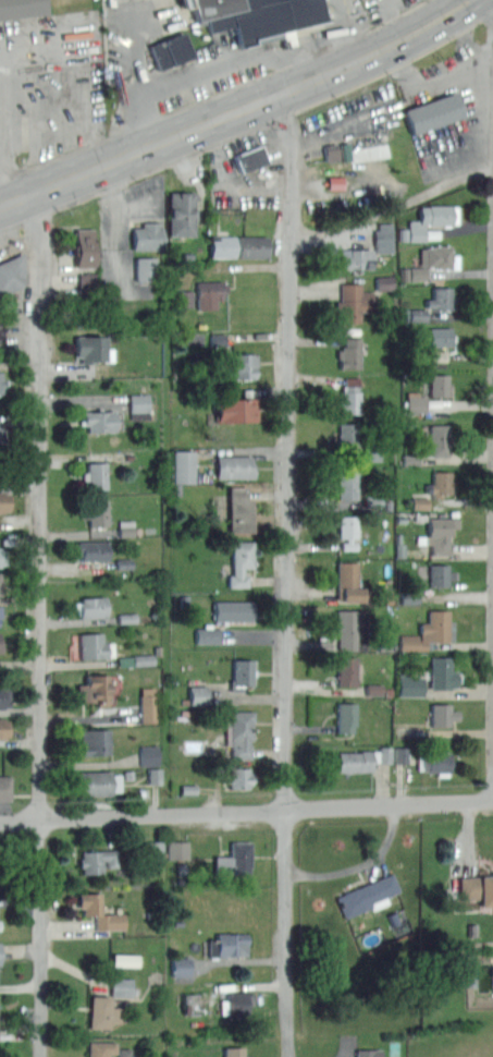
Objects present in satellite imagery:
building: (23, 7)
road: (402, 12)
road: (347, 14)
building: (251, 16)
road: (472, 22)
road: (468, 37)
road: (334, 42)
parking lot: (212, 44)
road: (432, 46)
road: (128, 48)
building: (171, 49)
road: (222, 63)
road: (400, 63)
road: (474, 72)
road: (74, 80)
parking lot: (49, 82)
road: (226, 88)
road: (343, 89)
road: (238, 109)
road: (1, 110)
building: (435, 110)
parking lot: (449, 110)
road: (283, 116)
parking lot: (349, 122)
road: (338, 124)
road: (127, 129)
road: (200, 149)
building: (330, 150)
building: (345, 150)
road: (63, 155)
building: (250, 157)
parking lot: (246, 170)
road: (4, 172)
road: (16, 172)
building: (337, 181)
road: (114, 183)
road: (237, 189)
road: (77, 199)
road: (393, 207)
road: (136, 209)
building: (184, 211)
road: (37, 215)
building: (431, 220)
road: (10, 226)
road: (118, 226)
building: (149, 234)
building: (385, 235)
parking lot: (134, 240)
parking lot: (10, 243)
building: (87, 245)
building: (241, 245)
building: (359, 256)
building: (435, 258)
building: (146, 267)
building: (13, 271)
building: (385, 280)
building: (88, 281)
building: (210, 291)
building: (189, 296)
building: (441, 296)
building: (355, 300)
building: (416, 314)
building: (442, 333)
building: (11, 336)
building: (218, 339)
building: (96, 347)
building: (444, 350)
building: (350, 351)
building: (246, 364)
road: (21, 365)
building: (2, 380)
building: (440, 384)
building: (350, 393)
building: (139, 400)
building: (416, 401)
building: (433, 401)
building: (236, 409)
building: (139, 414)
building: (100, 420)
building: (348, 433)
building: (2, 436)
building: (439, 438)
building: (372, 453)
building: (410, 455)
building: (185, 464)
building: (235, 464)
building: (96, 472)
building: (441, 484)
building: (348, 486)
building: (5, 500)
building: (374, 500)
building: (420, 501)
building: (389, 503)
building: (242, 508)
building: (96, 511)
building: (399, 515)
building: (419, 515)
building: (125, 525)
building: (348, 531)
building: (440, 533)
building: (399, 537)
building: (419, 538)
building: (93, 549)
building: (400, 549)
building: (3, 555)
building: (241, 561)
building: (123, 562)
road: (293, 572)
building: (441, 573)
building: (1, 582)
building: (349, 582)
building: (409, 595)
building: (186, 598)
building: (177, 599)
building: (93, 606)
building: (233, 609)
building: (0, 616)
building: (126, 616)
road: (41, 623)
building: (352, 628)
building: (428, 630)
building: (207, 634)
building: (1, 641)
building: (91, 644)
building: (385, 644)
building: (157, 648)
building: (136, 658)
building: (347, 670)
building: (245, 671)
building: (444, 671)
building: (411, 684)
building: (99, 687)
building: (374, 688)
building: (199, 693)
building: (5, 696)
building: (147, 703)
building: (443, 714)
building: (346, 716)
building: (5, 726)
building: (241, 731)
building: (97, 740)
building: (148, 753)
building: (369, 756)
building: (435, 760)
building: (128, 773)
building: (155, 774)
building: (243, 776)
building: (102, 781)
building: (5, 786)
building: (190, 788)
road: (246, 809)
building: (157, 846)
building: (177, 848)
building: (99, 859)
building: (235, 859)
building: (180, 865)
building: (477, 887)
building: (369, 892)
building: (101, 910)
building: (395, 918)
building: (470, 928)
building: (231, 943)
building: (1, 951)
building: (126, 958)
building: (182, 965)
building: (122, 985)
building: (236, 1001)
building: (190, 1003)
building: (99, 1010)
building: (0, 1020)
building: (100, 1048)
building: (123, 1052)
building: (235, 1052)
building: (368, 1052)

